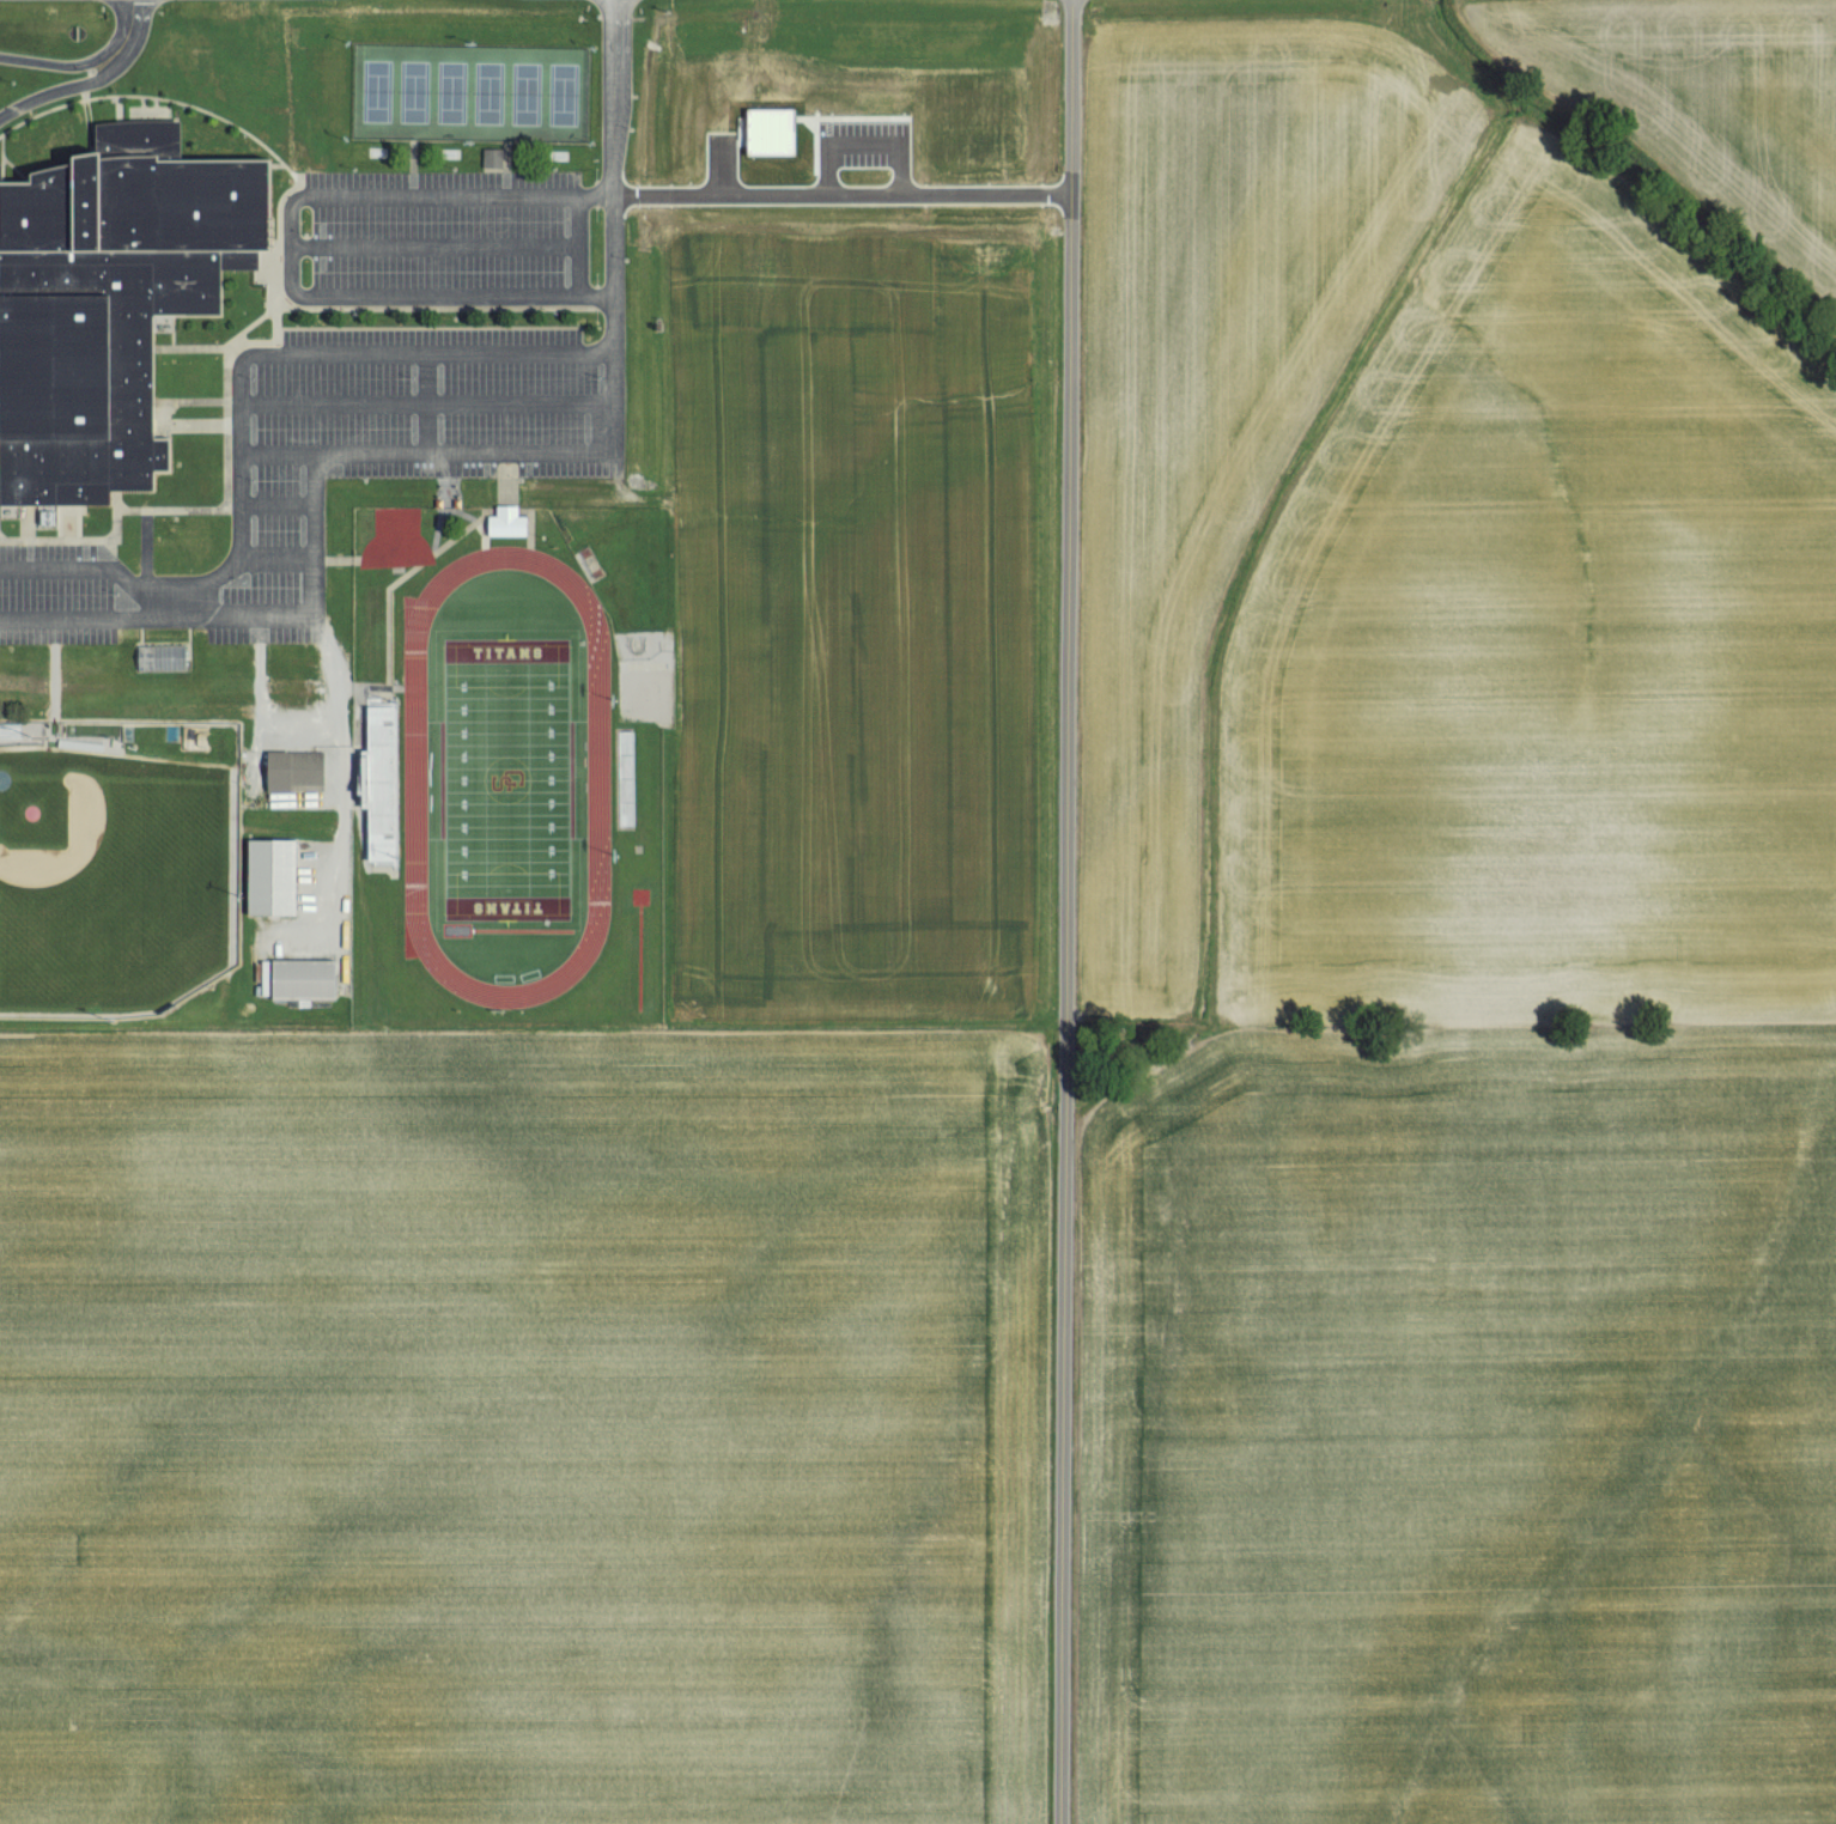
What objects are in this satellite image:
road: (84, 63)
road: (93, 83)
building: (105, 305)
road: (376, 353)
building: (505, 527)
building: (160, 659)
building: (292, 772)
track: (415, 778)
building: (626, 780)
park: (507, 782)
building: (268, 878)
road: (1063, 911)
building: (300, 981)

